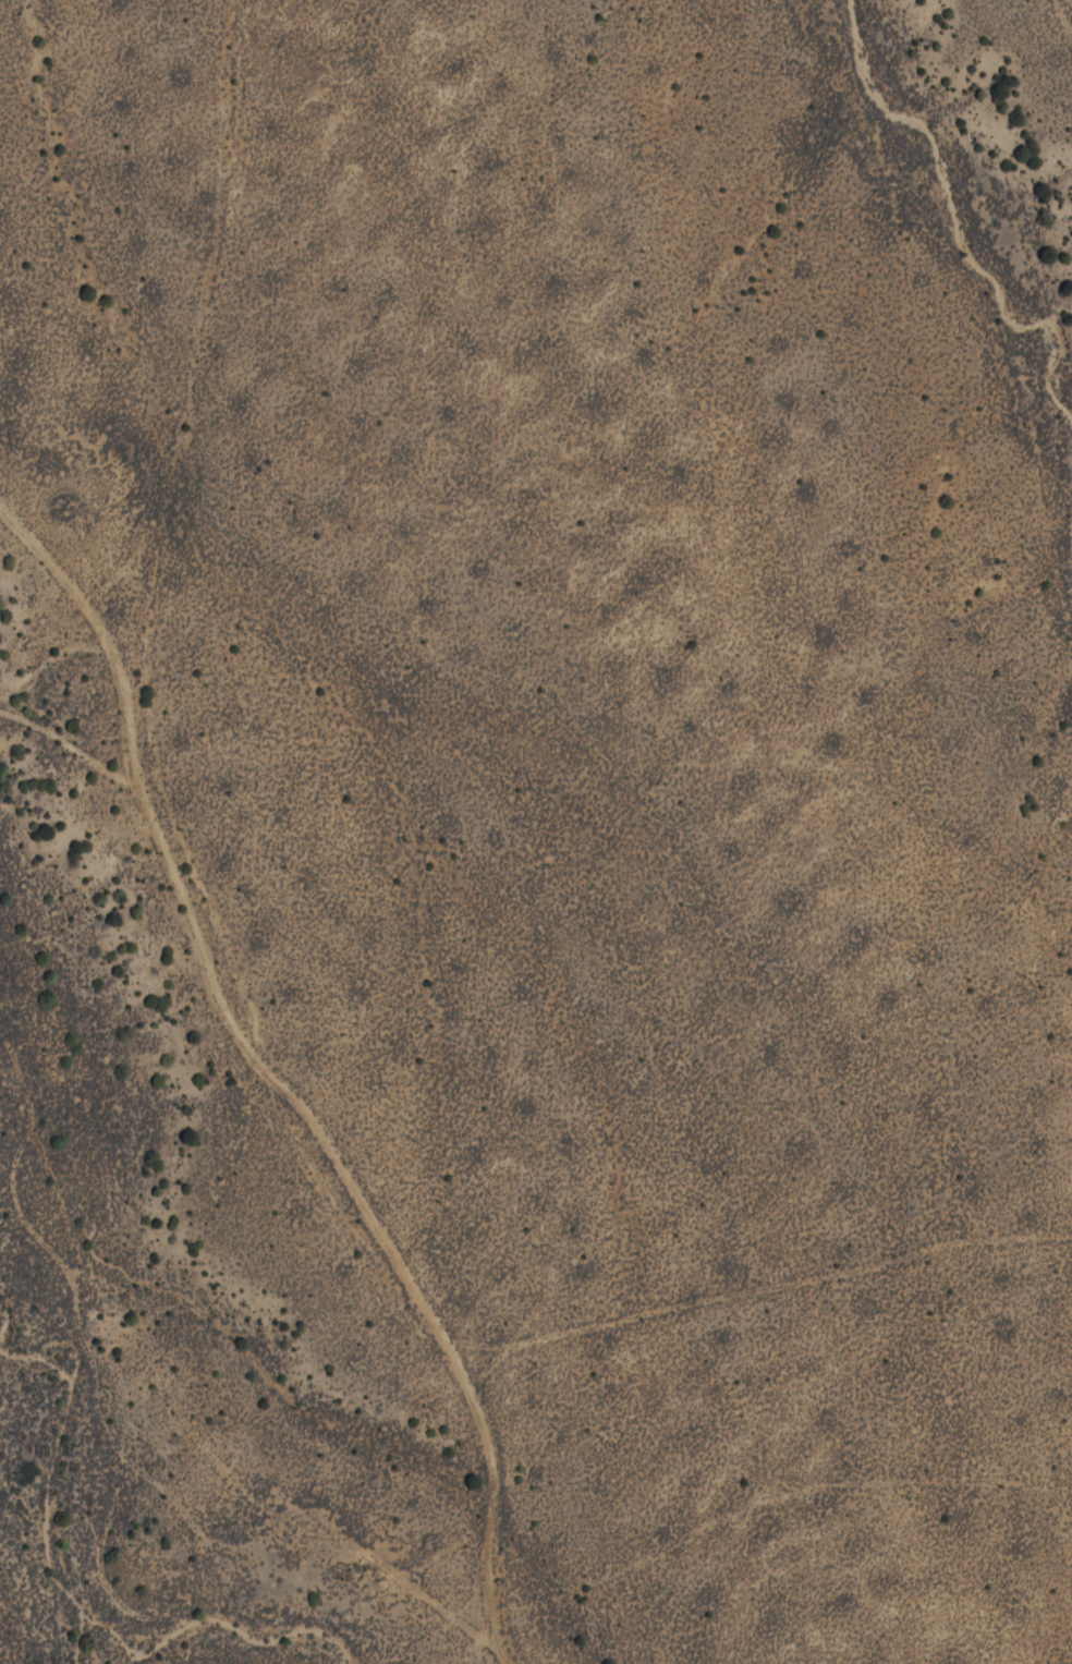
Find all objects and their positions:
road: (277, 1076)

